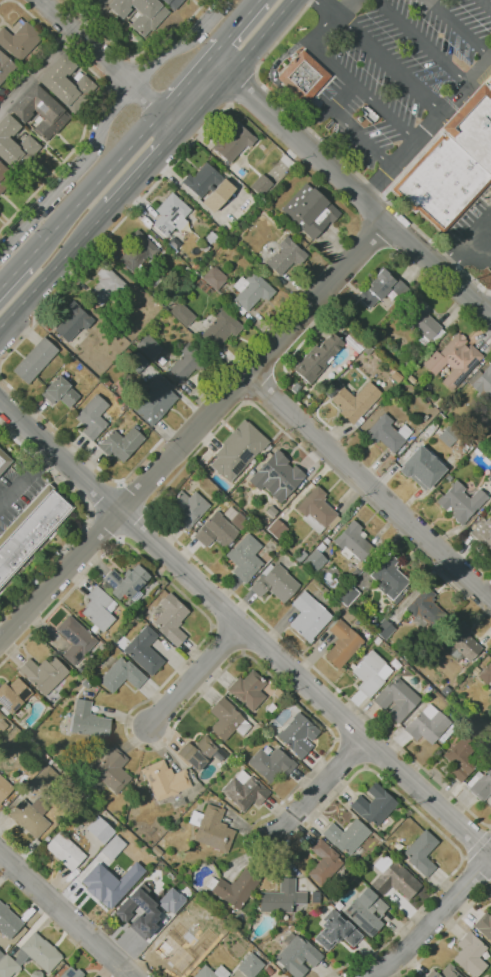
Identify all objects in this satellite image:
road: (2, 1)
building: (172, 3)
road: (485, 4)
road: (327, 8)
building: (140, 13)
road: (240, 22)
road: (458, 28)
building: (19, 40)
road: (422, 41)
road: (216, 52)
road: (135, 54)
road: (51, 55)
flagpole: (287, 59)
road: (389, 64)
road: (110, 65)
road: (237, 65)
building: (5, 67)
road: (119, 71)
parking lot: (397, 72)
road: (343, 73)
road: (273, 79)
building: (302, 79)
building: (66, 83)
road: (186, 85)
road: (243, 91)
road: (340, 96)
road: (91, 109)
building: (40, 112)
road: (104, 119)
road: (428, 127)
road: (360, 139)
building: (233, 143)
building: (15, 146)
road: (337, 154)
building: (452, 164)
road: (146, 168)
building: (5, 177)
building: (260, 184)
building: (208, 186)
road: (95, 187)
road: (350, 187)
building: (310, 211)
building: (171, 214)
road: (110, 234)
building: (209, 237)
building: (203, 246)
road: (463, 248)
building: (138, 251)
building: (285, 256)
road: (55, 267)
road: (13, 277)
building: (214, 277)
building: (105, 286)
building: (383, 289)
building: (250, 291)
building: (182, 314)
building: (73, 322)
building: (423, 323)
building: (220, 328)
building: (354, 342)
building: (373, 343)
building: (148, 346)
building: (316, 358)
building: (34, 360)
building: (453, 360)
building: (136, 362)
building: (188, 362)
building: (406, 364)
road: (1, 376)
building: (106, 383)
building: (482, 384)
building: (397, 390)
building: (60, 392)
building: (154, 401)
building: (355, 403)
building: (92, 416)
building: (424, 418)
building: (484, 423)
road: (194, 431)
road: (167, 434)
building: (386, 434)
building: (448, 436)
building: (120, 444)
building: (268, 447)
building: (237, 450)
road: (83, 454)
road: (310, 457)
building: (4, 461)
building: (422, 467)
building: (276, 476)
building: (489, 477)
road: (26, 479)
parking lot: (19, 481)
road: (369, 487)
road: (134, 496)
road: (106, 499)
building: (460, 502)
building: (187, 508)
building: (271, 511)
building: (317, 511)
building: (483, 514)
road: (90, 518)
road: (133, 522)
road: (106, 525)
building: (276, 529)
building: (31, 530)
building: (215, 531)
building: (483, 532)
building: (326, 541)
building: (354, 546)
building: (300, 556)
building: (245, 557)
building: (315, 559)
building: (389, 577)
building: (126, 583)
building: (275, 583)
road: (232, 592)
building: (347, 595)
building: (98, 610)
building: (424, 610)
building: (308, 617)
building: (170, 619)
road: (244, 628)
building: (383, 629)
building: (75, 639)
building: (377, 641)
building: (341, 643)
building: (461, 643)
building: (144, 650)
building: (80, 669)
building: (476, 670)
building: (370, 673)
building: (485, 673)
building: (42, 674)
building: (121, 675)
road: (195, 675)
building: (248, 690)
building: (445, 690)
building: (12, 696)
road: (295, 698)
building: (396, 700)
building: (224, 719)
building: (88, 721)
building: (2, 725)
building: (427, 725)
building: (298, 735)
building: (219, 752)
building: (197, 753)
building: (460, 757)
building: (270, 764)
building: (112, 771)
building: (46, 776)
building: (165, 780)
building: (480, 784)
building: (4, 789)
road: (318, 789)
building: (244, 791)
building: (374, 805)
building: (39, 806)
building: (69, 806)
building: (28, 819)
building: (211, 829)
building: (84, 830)
road: (490, 830)
building: (346, 836)
road: (478, 844)
building: (112, 847)
building: (65, 851)
building: (156, 851)
building: (421, 853)
building: (323, 862)
road: (477, 866)
building: (184, 874)
building: (395, 881)
building: (110, 884)
building: (234, 888)
building: (315, 897)
building: (281, 898)
building: (171, 899)
building: (120, 911)
building: (365, 912)
building: (191, 914)
road: (66, 915)
building: (8, 922)
road: (430, 923)
building: (484, 925)
building: (336, 930)
road: (445, 932)
building: (41, 952)
building: (174, 953)
building: (470, 954)
building: (1, 955)
building: (297, 956)
building: (20, 957)
building: (249, 966)
building: (7, 967)
road: (324, 969)
building: (268, 970)
building: (211, 972)
building: (444, 972)
building: (71, 973)
building: (36, 974)
building: (286, 976)

